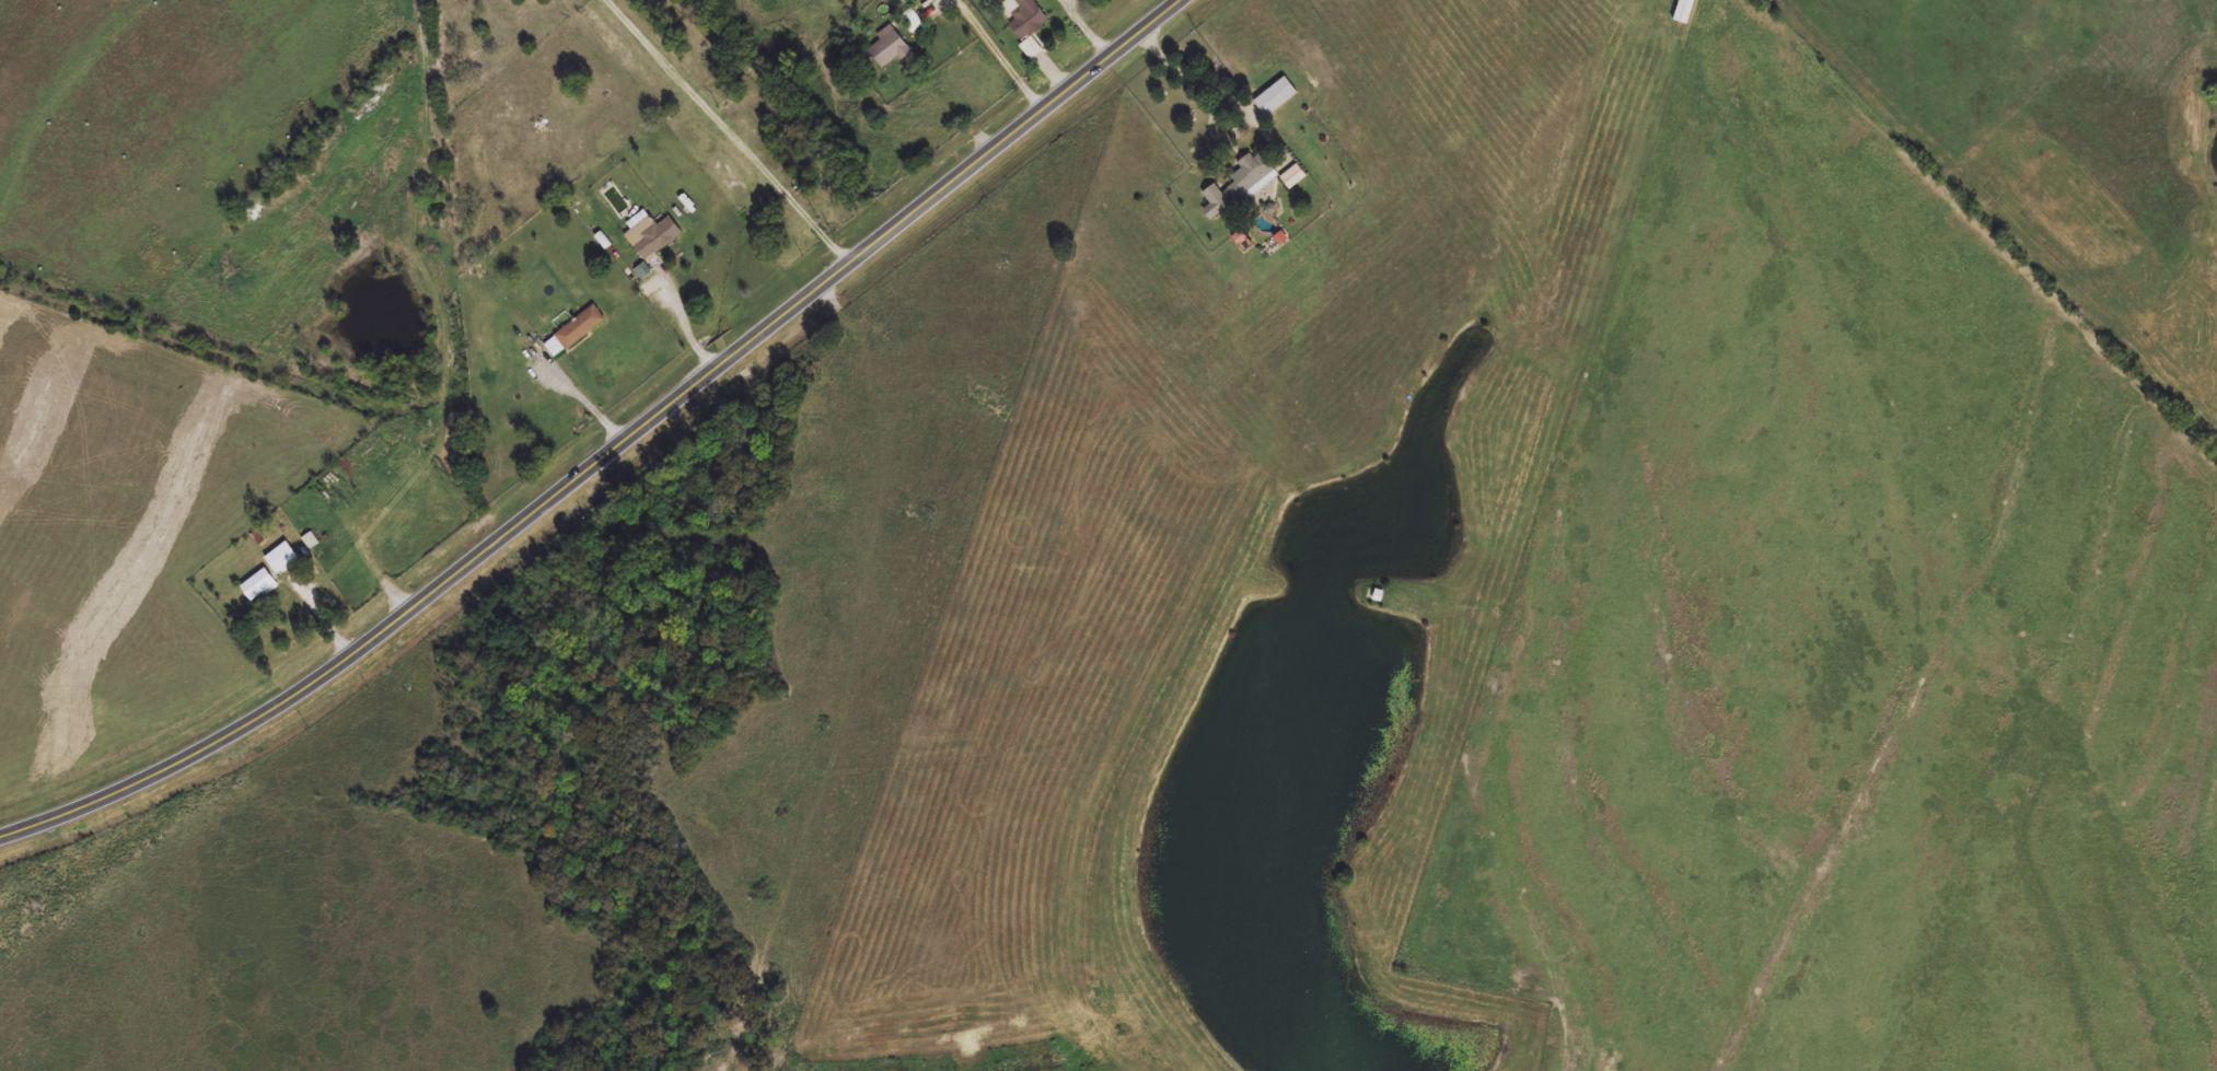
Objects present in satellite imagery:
building: (905, 1)
road: (930, 3)
building: (1686, 11)
building: (1024, 16)
building: (912, 20)
road: (1082, 27)
building: (890, 46)
road: (995, 54)
building: (1276, 96)
road: (734, 129)
building: (1253, 173)
building: (1292, 176)
building: (652, 233)
road: (686, 327)
building: (576, 330)
road: (587, 404)
road: (610, 451)
building: (344, 474)
building: (283, 557)
road: (371, 564)
building: (260, 585)
road: (322, 617)

